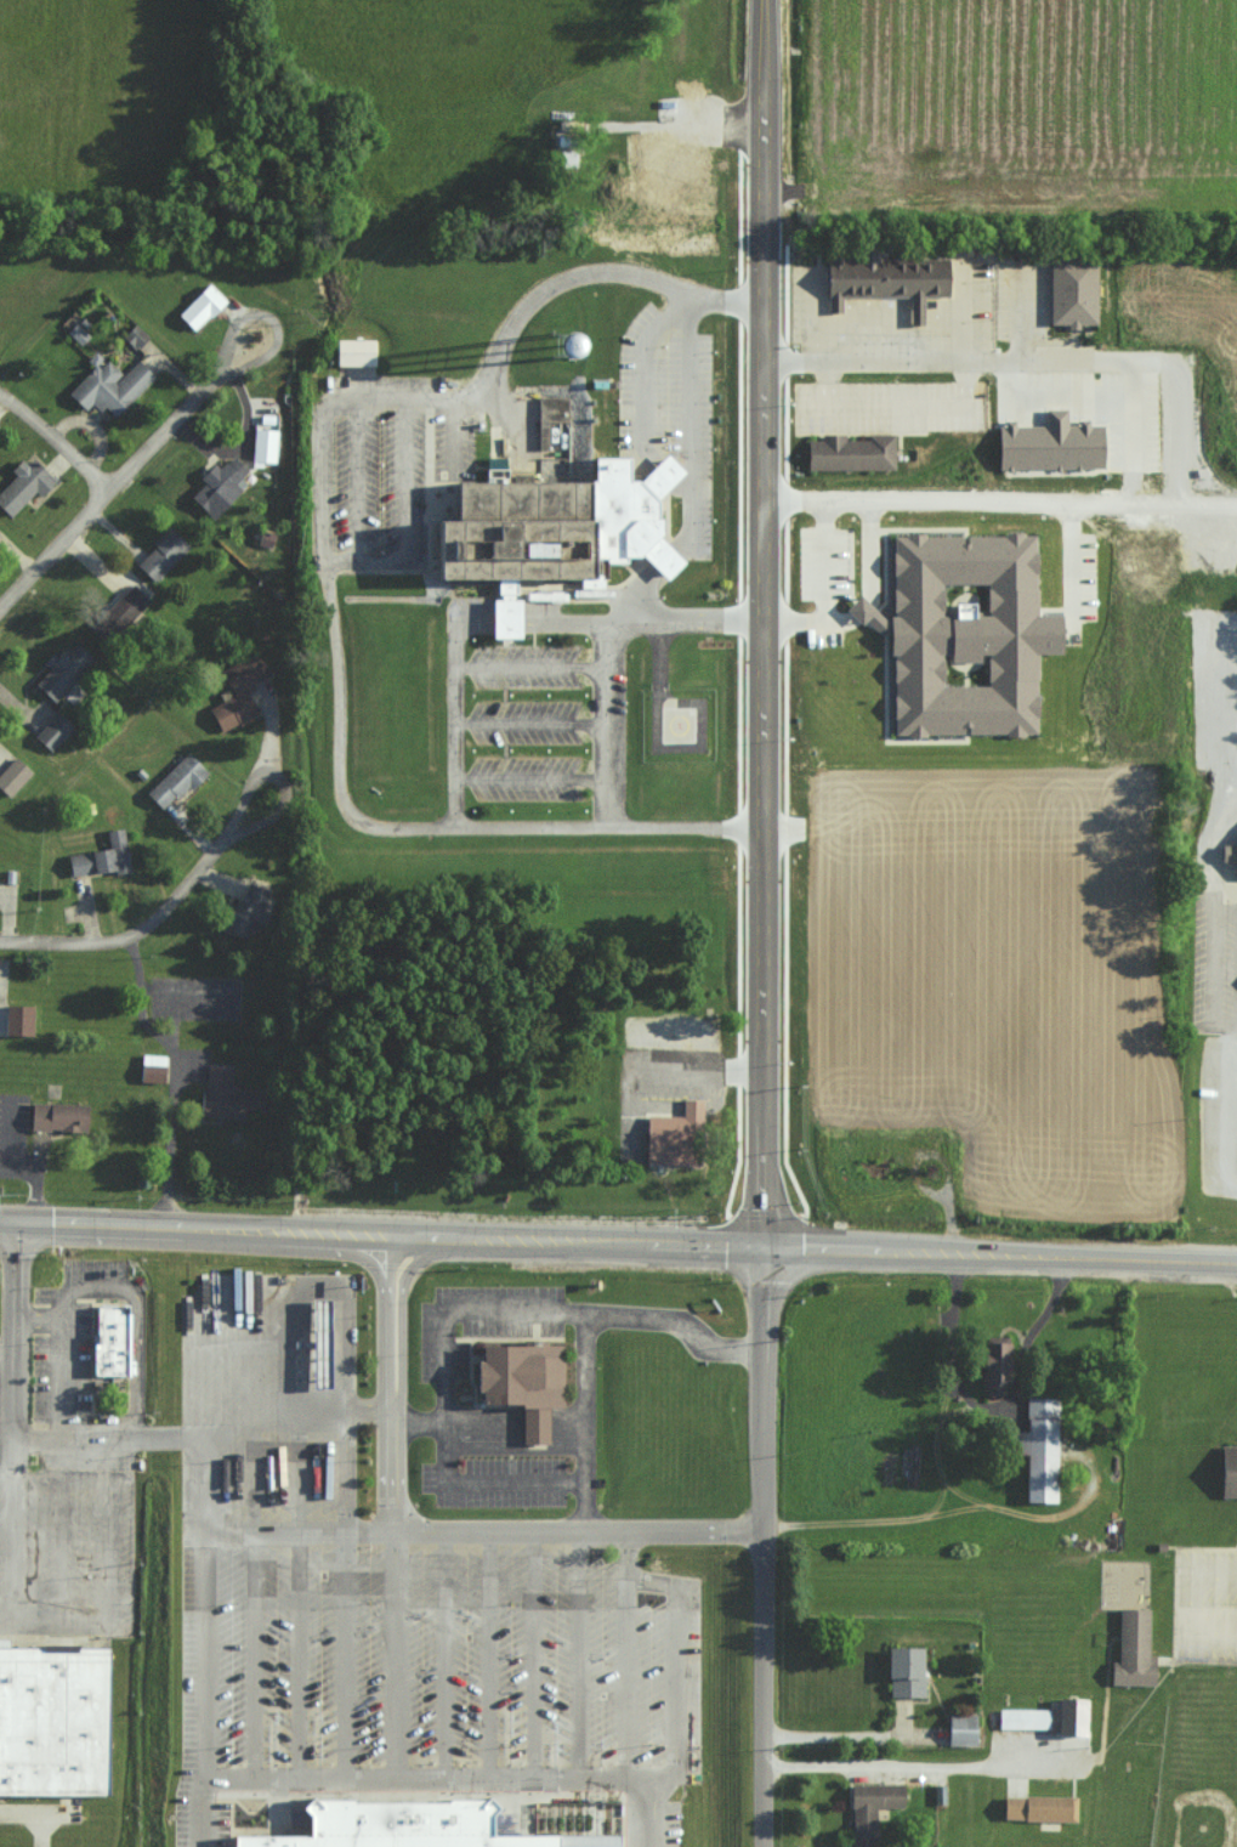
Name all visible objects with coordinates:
building: (647, 138)
building: (665, 164)
building: (886, 279)
building: (1076, 291)
parking lot: (1000, 296)
road: (683, 305)
building: (200, 306)
road: (268, 322)
building: (544, 334)
water tower: (562, 346)
building: (357, 353)
road: (923, 364)
parking lot: (387, 384)
building: (109, 386)
road: (643, 406)
parking lot: (671, 406)
parking lot: (890, 408)
parking lot: (1107, 409)
road: (456, 435)
road: (1133, 438)
road: (53, 440)
parking lot: (454, 443)
building: (265, 444)
building: (1054, 444)
building: (853, 454)
road: (691, 461)
road: (358, 480)
parking lot: (375, 483)
building: (22, 485)
building: (220, 485)
road: (102, 491)
road: (1083, 509)
road: (404, 517)
building: (563, 520)
building: (161, 554)
parking lot: (827, 563)
road: (323, 567)
parking lot: (1078, 585)
road: (825, 596)
parking lot: (543, 602)
parking lot: (471, 605)
building: (121, 610)
road: (691, 621)
building: (968, 635)
parking lot: (824, 640)
road: (458, 651)
parking lot: (524, 667)
road: (533, 668)
building: (62, 670)
building: (238, 691)
road: (608, 701)
parking lot: (524, 724)
road: (532, 724)
helipad: (676, 725)
building: (53, 731)
building: (12, 776)
road: (532, 778)
road: (276, 780)
parking lot: (524, 780)
building: (175, 781)
road: (1214, 850)
building: (1230, 854)
building: (101, 856)
building: (249, 910)
road: (760, 923)
road: (131, 936)
parking lot: (1215, 951)
road: (1214, 969)
road: (177, 998)
parking lot: (197, 998)
building: (21, 1021)
parking lot: (666, 1056)
parking lot: (199, 1065)
building: (154, 1069)
road: (177, 1072)
road: (705, 1072)
building: (228, 1097)
building: (61, 1117)
parking lot: (1219, 1117)
parking lot: (13, 1137)
building: (677, 1138)
road: (15, 1165)
traffic signals: (23, 1213)
road: (380, 1231)
traffic signals: (761, 1246)
road: (853, 1248)
road: (1091, 1254)
parking lot: (96, 1269)
parking lot: (42, 1296)
road: (523, 1313)
road: (135, 1330)
building: (112, 1341)
building: (318, 1343)
road: (8, 1345)
road: (63, 1359)
building: (995, 1369)
parking lot: (63, 1371)
building: (526, 1384)
road: (586, 1400)
road: (289, 1411)
road: (516, 1411)
road: (13, 1416)
parking lot: (447, 1420)
road: (516, 1421)
road: (419, 1424)
road: (516, 1429)
road: (158, 1435)
road: (516, 1438)
building: (1038, 1447)
building: (1230, 1472)
road: (29, 1477)
road: (516, 1483)
road: (586, 1507)
road: (957, 1511)
road: (427, 1532)
road: (297, 1534)
parking lot: (67, 1547)
road: (59, 1549)
road: (110, 1549)
road: (250, 1593)
road: (296, 1593)
road: (342, 1593)
parking lot: (1205, 1604)
road: (1198, 1605)
road: (29, 1621)
parking lot: (410, 1641)
building: (1134, 1649)
road: (395, 1654)
road: (442, 1654)
road: (488, 1654)
road: (532, 1654)
road: (625, 1654)
road: (203, 1655)
road: (578, 1655)
road: (676, 1665)
building: (904, 1672)
building: (1071, 1717)
building: (1023, 1718)
building: (53, 1722)
building: (961, 1729)
road: (913, 1757)
road: (426, 1777)
park: (1197, 1777)
building: (872, 1808)
building: (1039, 1808)
road: (35, 1811)
road: (197, 1811)
road: (649, 1812)
building: (420, 1826)

